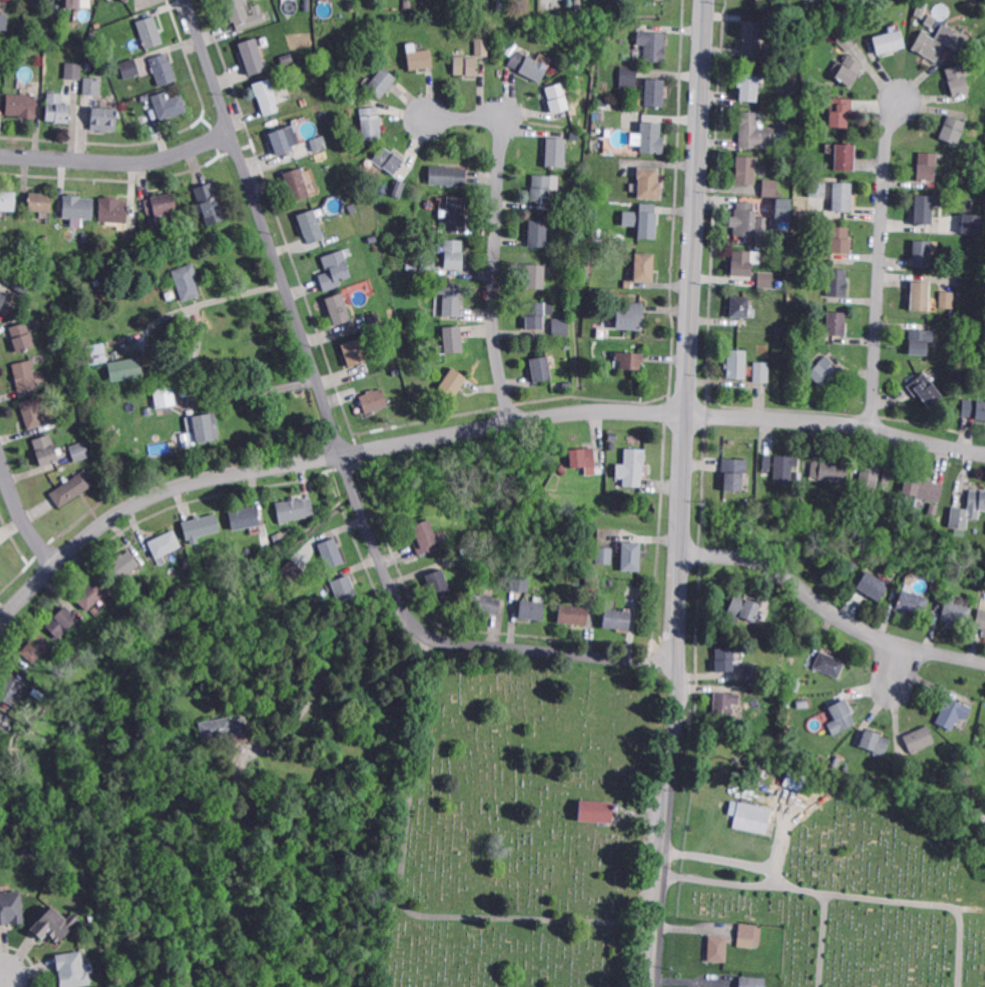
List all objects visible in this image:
building: (123, 0)
building: (126, 0)
building: (759, 0)
building: (409, 3)
building: (576, 3)
building: (72, 4)
building: (308, 5)
building: (351, 5)
building: (861, 9)
building: (922, 9)
building: (245, 13)
building: (4, 22)
building: (613, 26)
building: (16, 32)
building: (150, 32)
building: (753, 37)
building: (391, 41)
building: (846, 41)
building: (889, 41)
building: (939, 42)
building: (481, 43)
building: (654, 45)
building: (252, 53)
building: (420, 58)
building: (526, 62)
building: (467, 64)
building: (89, 66)
building: (129, 66)
building: (846, 68)
building: (163, 69)
building: (74, 70)
building: (983, 70)
building: (627, 75)
building: (957, 79)
building: (382, 81)
building: (91, 87)
building: (750, 87)
building: (655, 91)
building: (341, 92)
building: (265, 94)
building: (557, 95)
building: (21, 104)
building: (169, 104)
building: (56, 108)
building: (841, 110)
building: (104, 119)
building: (371, 121)
building: (754, 129)
building: (953, 129)
building: (282, 137)
building: (652, 137)
building: (320, 147)
building: (556, 151)
building: (844, 155)
building: (388, 159)
road: (119, 161)
building: (928, 165)
building: (747, 169)
building: (448, 174)
building: (650, 182)
building: (297, 183)
building: (396, 186)
building: (769, 186)
building: (540, 187)
building: (818, 188)
building: (843, 196)
building: (757, 197)
building: (7, 201)
building: (41, 201)
building: (210, 204)
building: (610, 205)
building: (78, 206)
building: (161, 206)
building: (783, 207)
building: (455, 208)
building: (924, 208)
building: (113, 210)
building: (343, 216)
building: (746, 218)
building: (648, 224)
building: (312, 225)
building: (977, 227)
road: (498, 231)
building: (538, 232)
building: (147, 236)
building: (838, 236)
building: (86, 237)
building: (135, 239)
building: (45, 240)
building: (923, 252)
building: (455, 253)
building: (740, 261)
road: (881, 262)
building: (429, 266)
building: (645, 266)
building: (336, 270)
building: (957, 270)
building: (536, 275)
building: (767, 278)
building: (22, 280)
building: (187, 280)
building: (838, 281)
building: (954, 282)
building: (921, 295)
building: (452, 298)
building: (946, 299)
building: (2, 300)
building: (554, 303)
building: (740, 306)
building: (339, 307)
building: (29, 308)
building: (420, 312)
building: (630, 314)
building: (536, 315)
building: (373, 316)
road: (155, 321)
building: (837, 322)
building: (561, 326)
road: (692, 329)
building: (23, 336)
building: (454, 338)
building: (921, 340)
building: (954, 341)
building: (568, 345)
building: (802, 350)
building: (354, 351)
building: (96, 354)
building: (627, 358)
building: (735, 362)
building: (542, 368)
building: (125, 369)
building: (824, 370)
building: (762, 371)
building: (25, 374)
building: (453, 381)
building: (925, 388)
road: (262, 389)
building: (163, 395)
building: (374, 399)
building: (974, 408)
building: (33, 411)
building: (202, 424)
building: (112, 429)
road: (467, 430)
road: (338, 440)
building: (613, 445)
building: (46, 449)
building: (80, 451)
building: (583, 456)
building: (631, 465)
building: (780, 468)
building: (829, 471)
building: (555, 472)
building: (734, 472)
building: (887, 478)
building: (869, 479)
building: (73, 487)
building: (922, 487)
building: (555, 490)
building: (837, 506)
building: (291, 508)
building: (933, 508)
building: (969, 510)
road: (20, 512)
building: (244, 516)
building: (205, 524)
building: (425, 536)
building: (469, 538)
building: (165, 542)
building: (332, 552)
building: (467, 553)
building: (603, 553)
building: (631, 555)
building: (851, 564)
building: (122, 565)
building: (474, 565)
building: (293, 569)
building: (608, 580)
building: (439, 581)
building: (520, 582)
building: (591, 582)
building: (977, 582)
building: (873, 585)
building: (934, 587)
building: (345, 589)
building: (91, 593)
building: (940, 596)
building: (984, 596)
building: (913, 601)
building: (484, 602)
building: (741, 607)
building: (532, 608)
building: (96, 610)
road: (829, 610)
building: (956, 613)
building: (574, 614)
building: (761, 614)
building: (617, 618)
building: (62, 620)
building: (981, 620)
building: (36, 646)
building: (725, 658)
building: (830, 663)
road: (900, 666)
building: (752, 671)
building: (10, 689)
building: (763, 690)
building: (724, 702)
building: (787, 703)
building: (804, 704)
building: (950, 710)
building: (1, 712)
building: (841, 717)
building: (226, 727)
building: (920, 738)
building: (876, 741)
building: (968, 741)
building: (964, 748)
building: (1, 762)
building: (760, 764)
building: (876, 768)
building: (0, 772)
building: (796, 779)
building: (235, 783)
building: (809, 789)
building: (126, 801)
building: (980, 806)
building: (595, 808)
building: (748, 814)
road: (668, 822)
park: (654, 840)
road: (782, 880)
road: (803, 887)
road: (930, 903)
building: (11, 909)
building: (53, 926)
building: (749, 934)
road: (822, 939)
building: (718, 948)
building: (72, 970)
building: (752, 981)
road: (7, 982)
building: (709, 986)
building: (725, 986)

